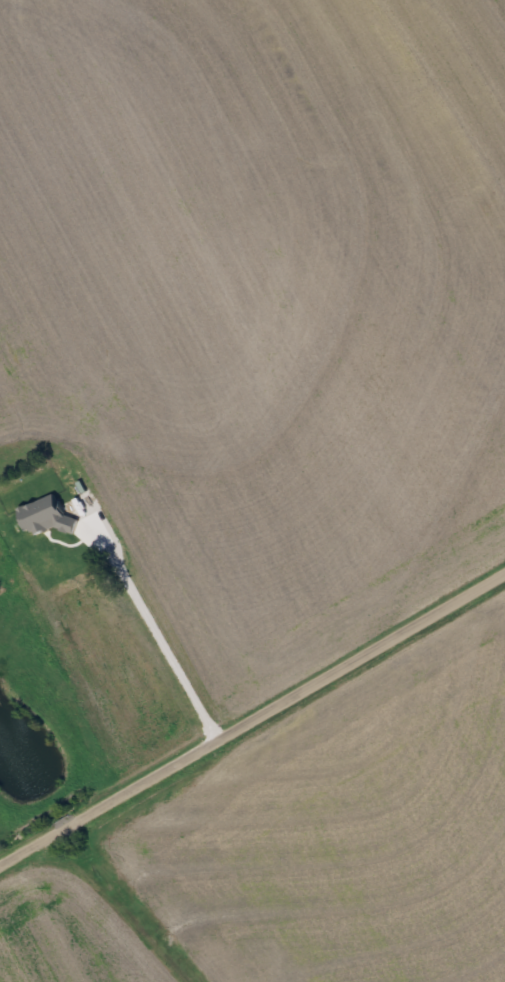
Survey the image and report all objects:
crop: (262, 305)
road: (252, 716)
crop: (300, 841)

